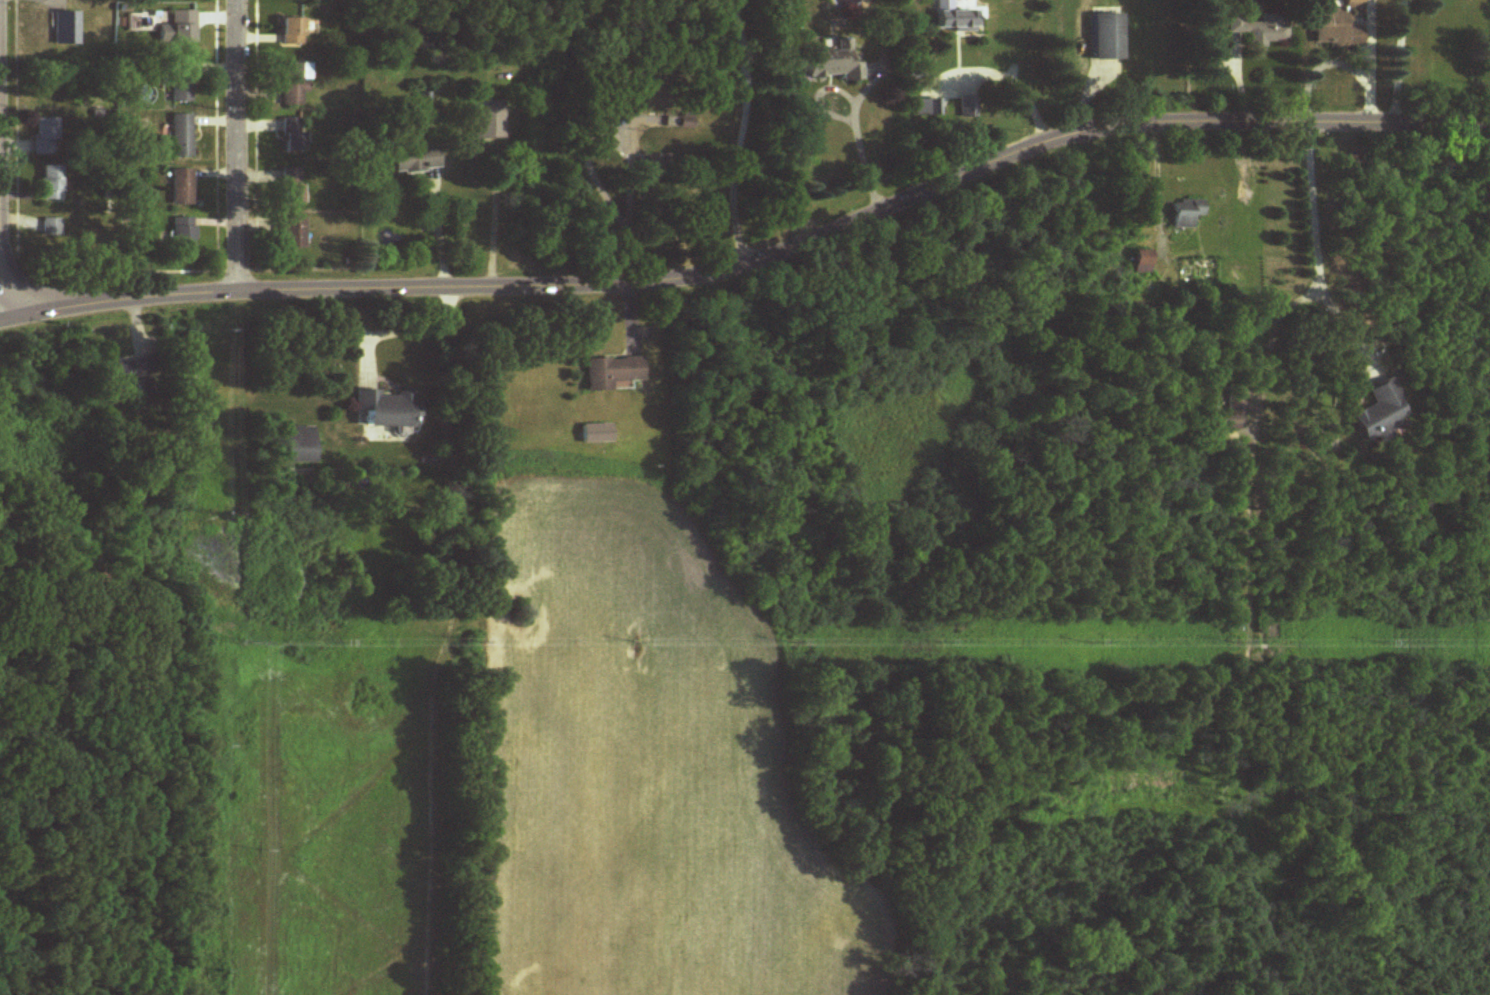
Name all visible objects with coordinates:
building: (956, 20)
building: (182, 26)
building: (1337, 26)
building: (65, 30)
building: (1262, 30)
building: (291, 31)
building: (1108, 37)
road: (1338, 57)
building: (835, 62)
road: (1397, 63)
road: (1013, 82)
building: (181, 84)
building: (293, 84)
building: (927, 107)
building: (968, 107)
road: (852, 112)
building: (677, 118)
building: (488, 119)
road: (738, 132)
building: (46, 135)
building: (181, 135)
building: (294, 135)
road: (238, 146)
building: (416, 159)
building: (50, 183)
building: (292, 186)
building: (182, 188)
road: (1158, 190)
building: (1186, 213)
building: (51, 227)
road: (438, 230)
building: (292, 233)
building: (183, 235)
road: (1317, 246)
road: (755, 261)
road: (4, 298)
road: (396, 327)
building: (129, 374)
building: (612, 374)
building: (1233, 404)
building: (385, 409)
building: (1381, 413)
building: (595, 434)
building: (298, 445)

